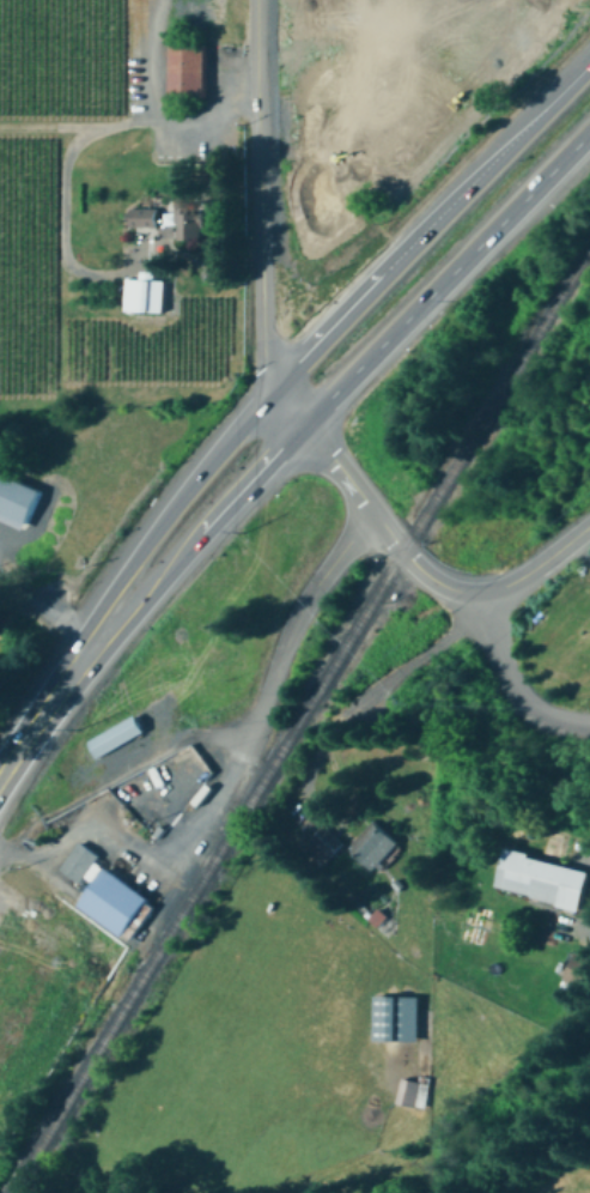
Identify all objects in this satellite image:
building: (187, 72)
crop: (395, 103)
road: (150, 110)
road: (63, 181)
building: (141, 217)
road: (257, 218)
road: (430, 225)
building: (189, 226)
road: (448, 278)
building: (145, 297)
building: (17, 502)
road: (382, 523)
road: (132, 562)
road: (537, 565)
road: (159, 588)
road: (42, 594)
road: (511, 683)
road: (270, 685)
road: (370, 691)
railway: (299, 719)
road: (225, 735)
building: (115, 737)
road: (8, 768)
road: (118, 783)
road: (20, 835)
building: (323, 846)
building: (373, 847)
building: (79, 864)
building: (541, 882)
building: (115, 904)
building: (579, 968)
building: (399, 1021)
building: (409, 1094)

